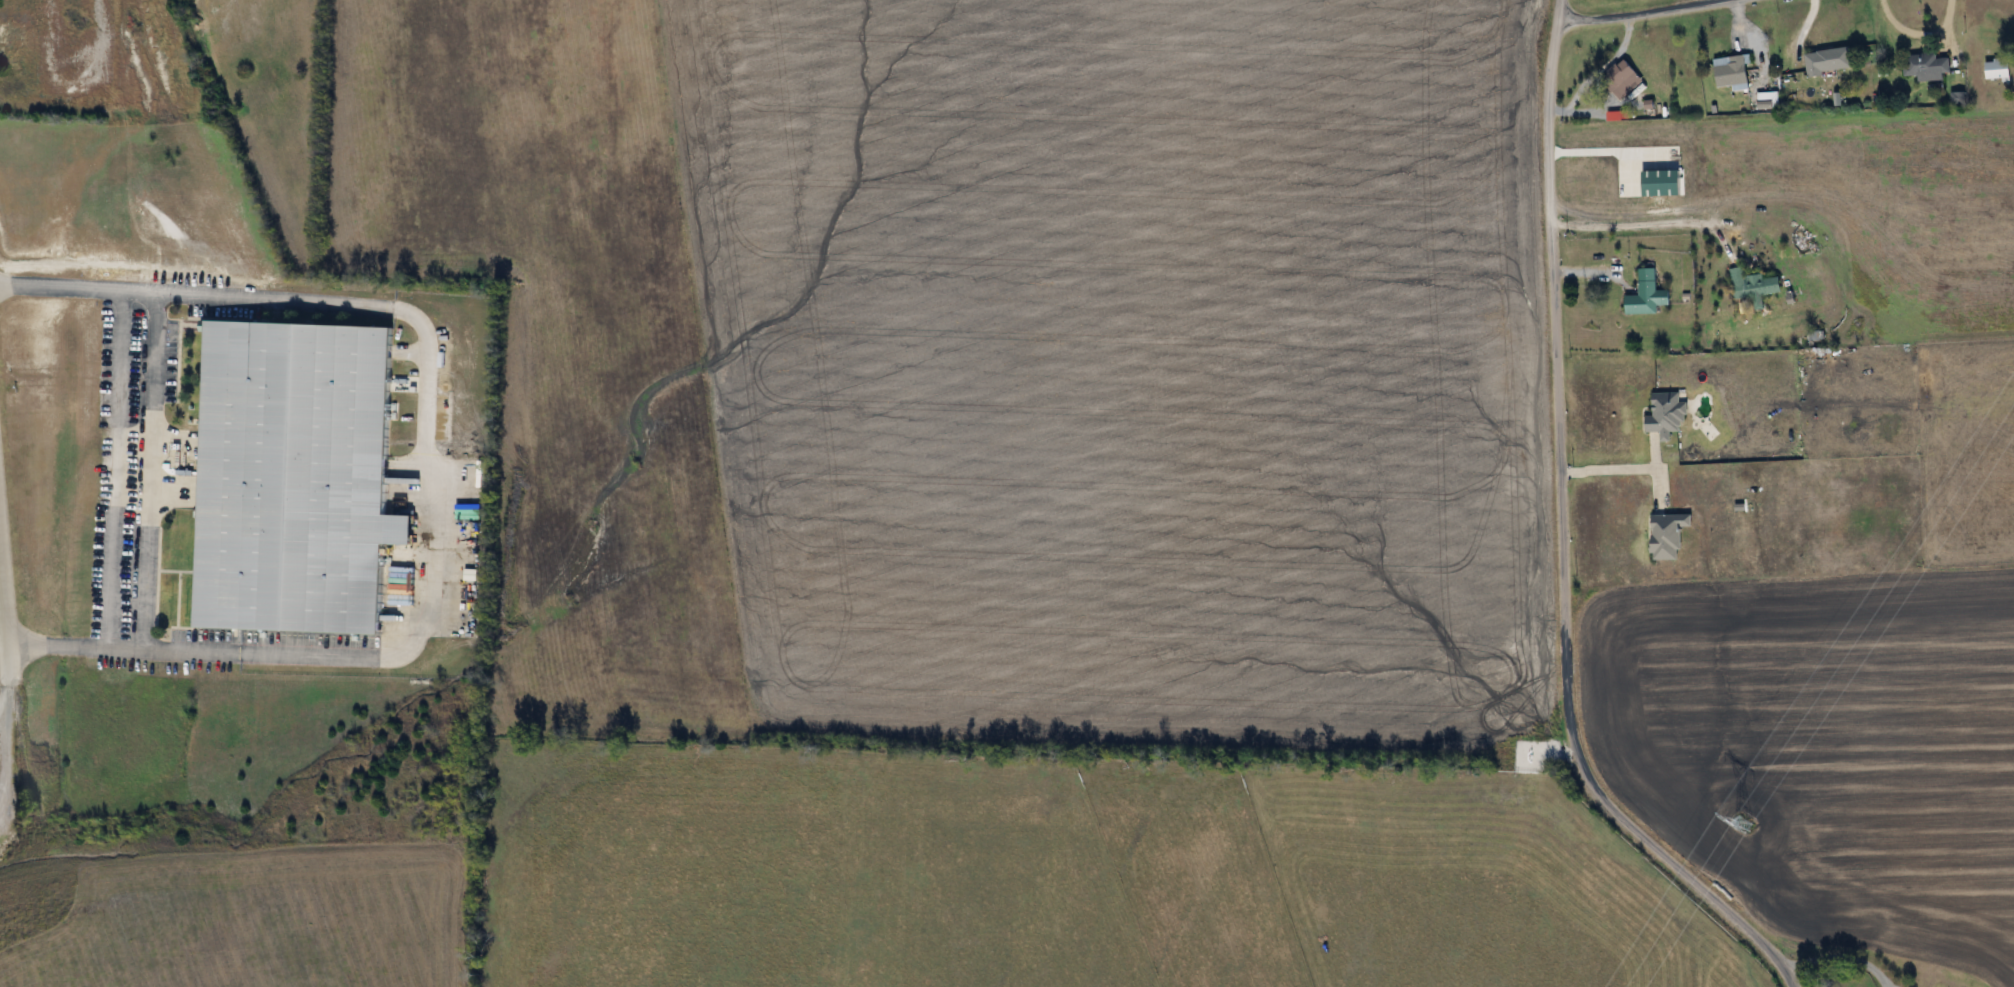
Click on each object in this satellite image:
road: (1638, 13)
road: (1926, 30)
building: (1828, 60)
building: (1926, 66)
building: (1997, 69)
building: (1730, 70)
building: (1621, 78)
road: (1630, 221)
building: (1752, 288)
building: (1646, 294)
road: (1650, 453)
road: (117, 470)
road: (150, 471)
road: (1623, 472)
building: (293, 476)
road: (421, 476)
road: (1559, 538)
road: (4, 633)
road: (6, 694)
power tower: (1745, 822)
road: (1840, 955)

